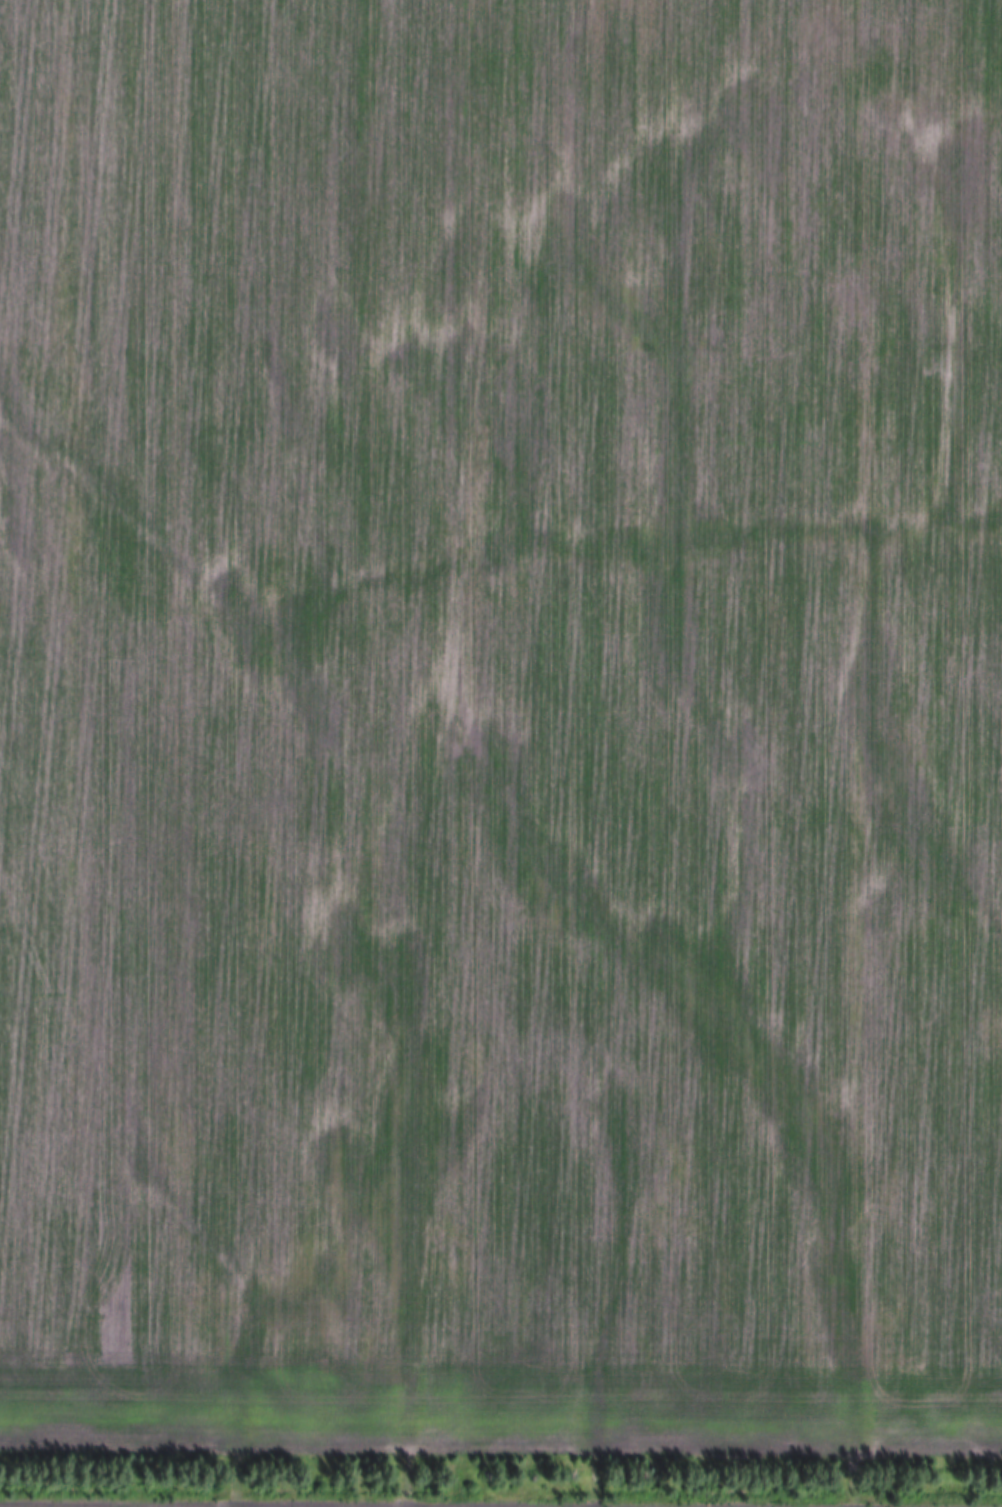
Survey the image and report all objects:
crop: (982, 51)
crop: (499, 730)
crop: (417, 1504)

